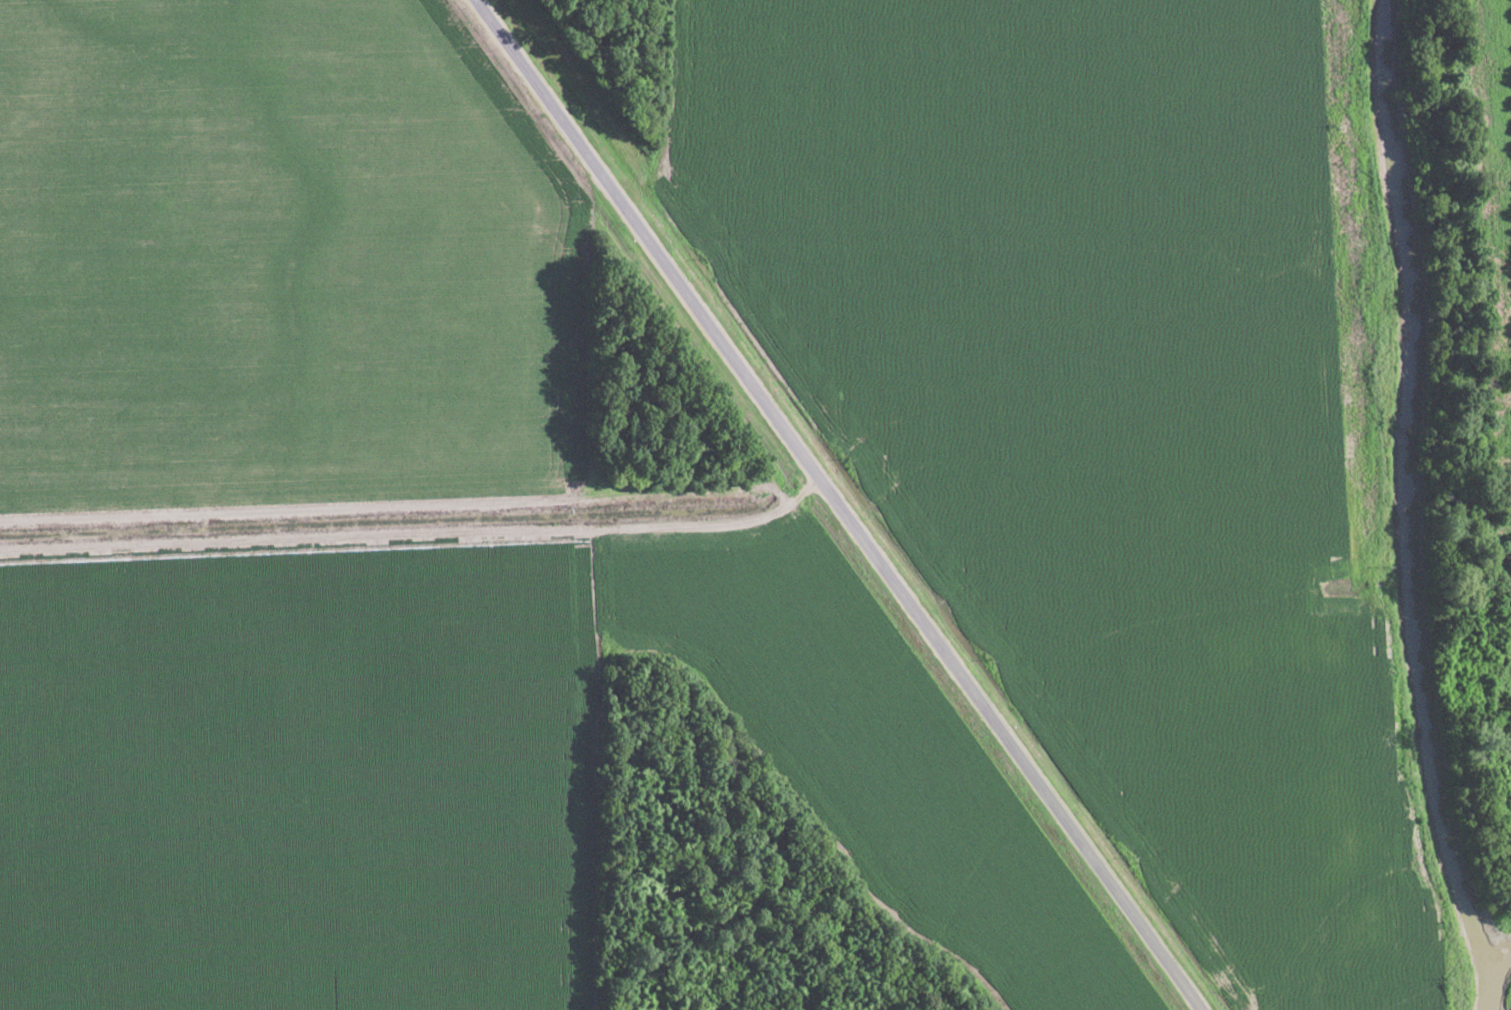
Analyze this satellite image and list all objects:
road: (835, 505)

